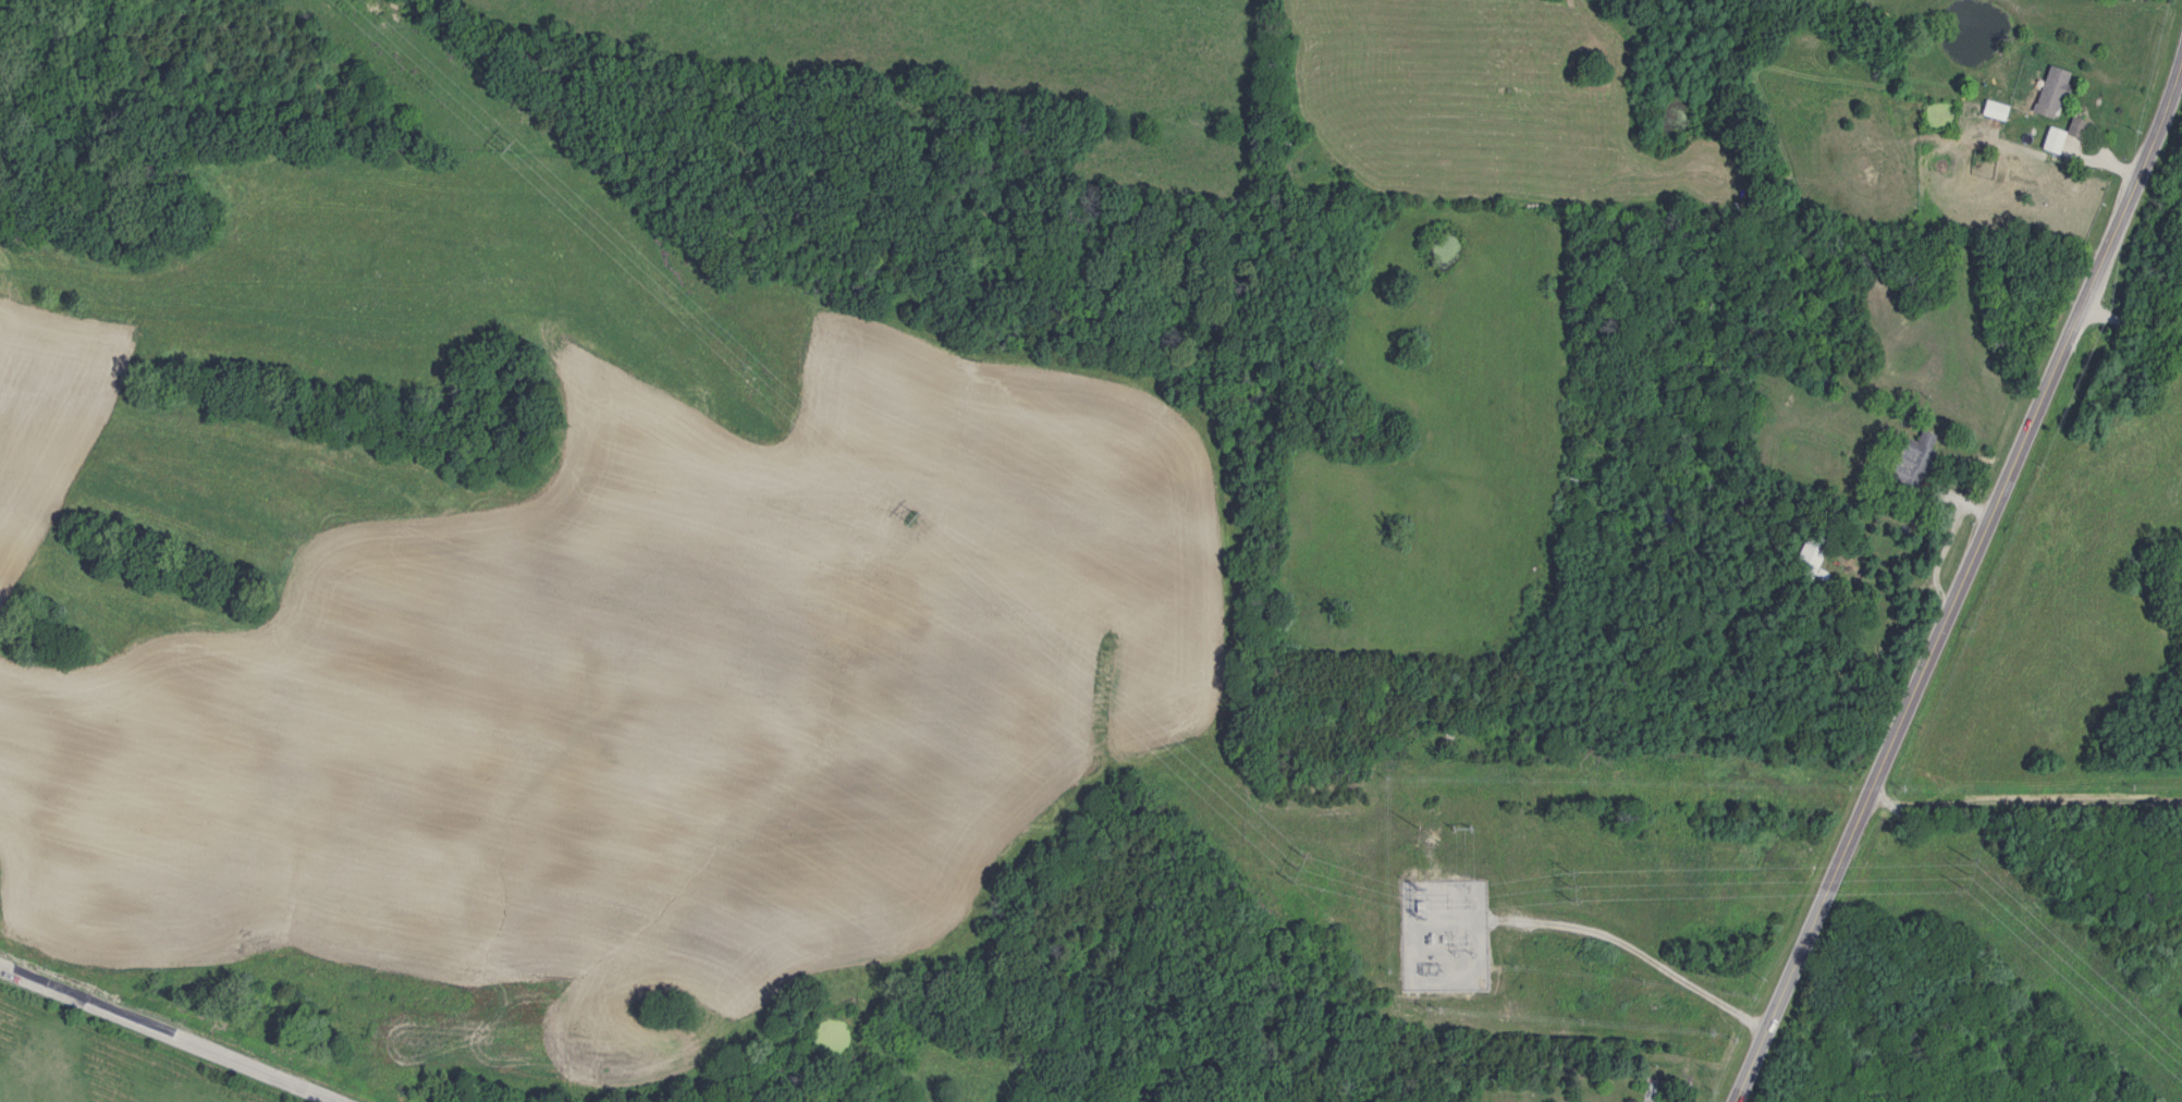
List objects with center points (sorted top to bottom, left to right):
building: (2047, 94)
building: (1990, 111)
building: (2058, 137)
power tower: (498, 144)
road: (2132, 322)
building: (1910, 461)
power tower: (906, 519)
building: (1810, 559)
road: (1960, 586)
power tower: (1290, 871)
power tower: (1961, 874)
power tower: (1569, 883)
power tower: (1422, 899)
power substation: (1443, 934)
road: (1645, 956)
road: (167, 1036)

